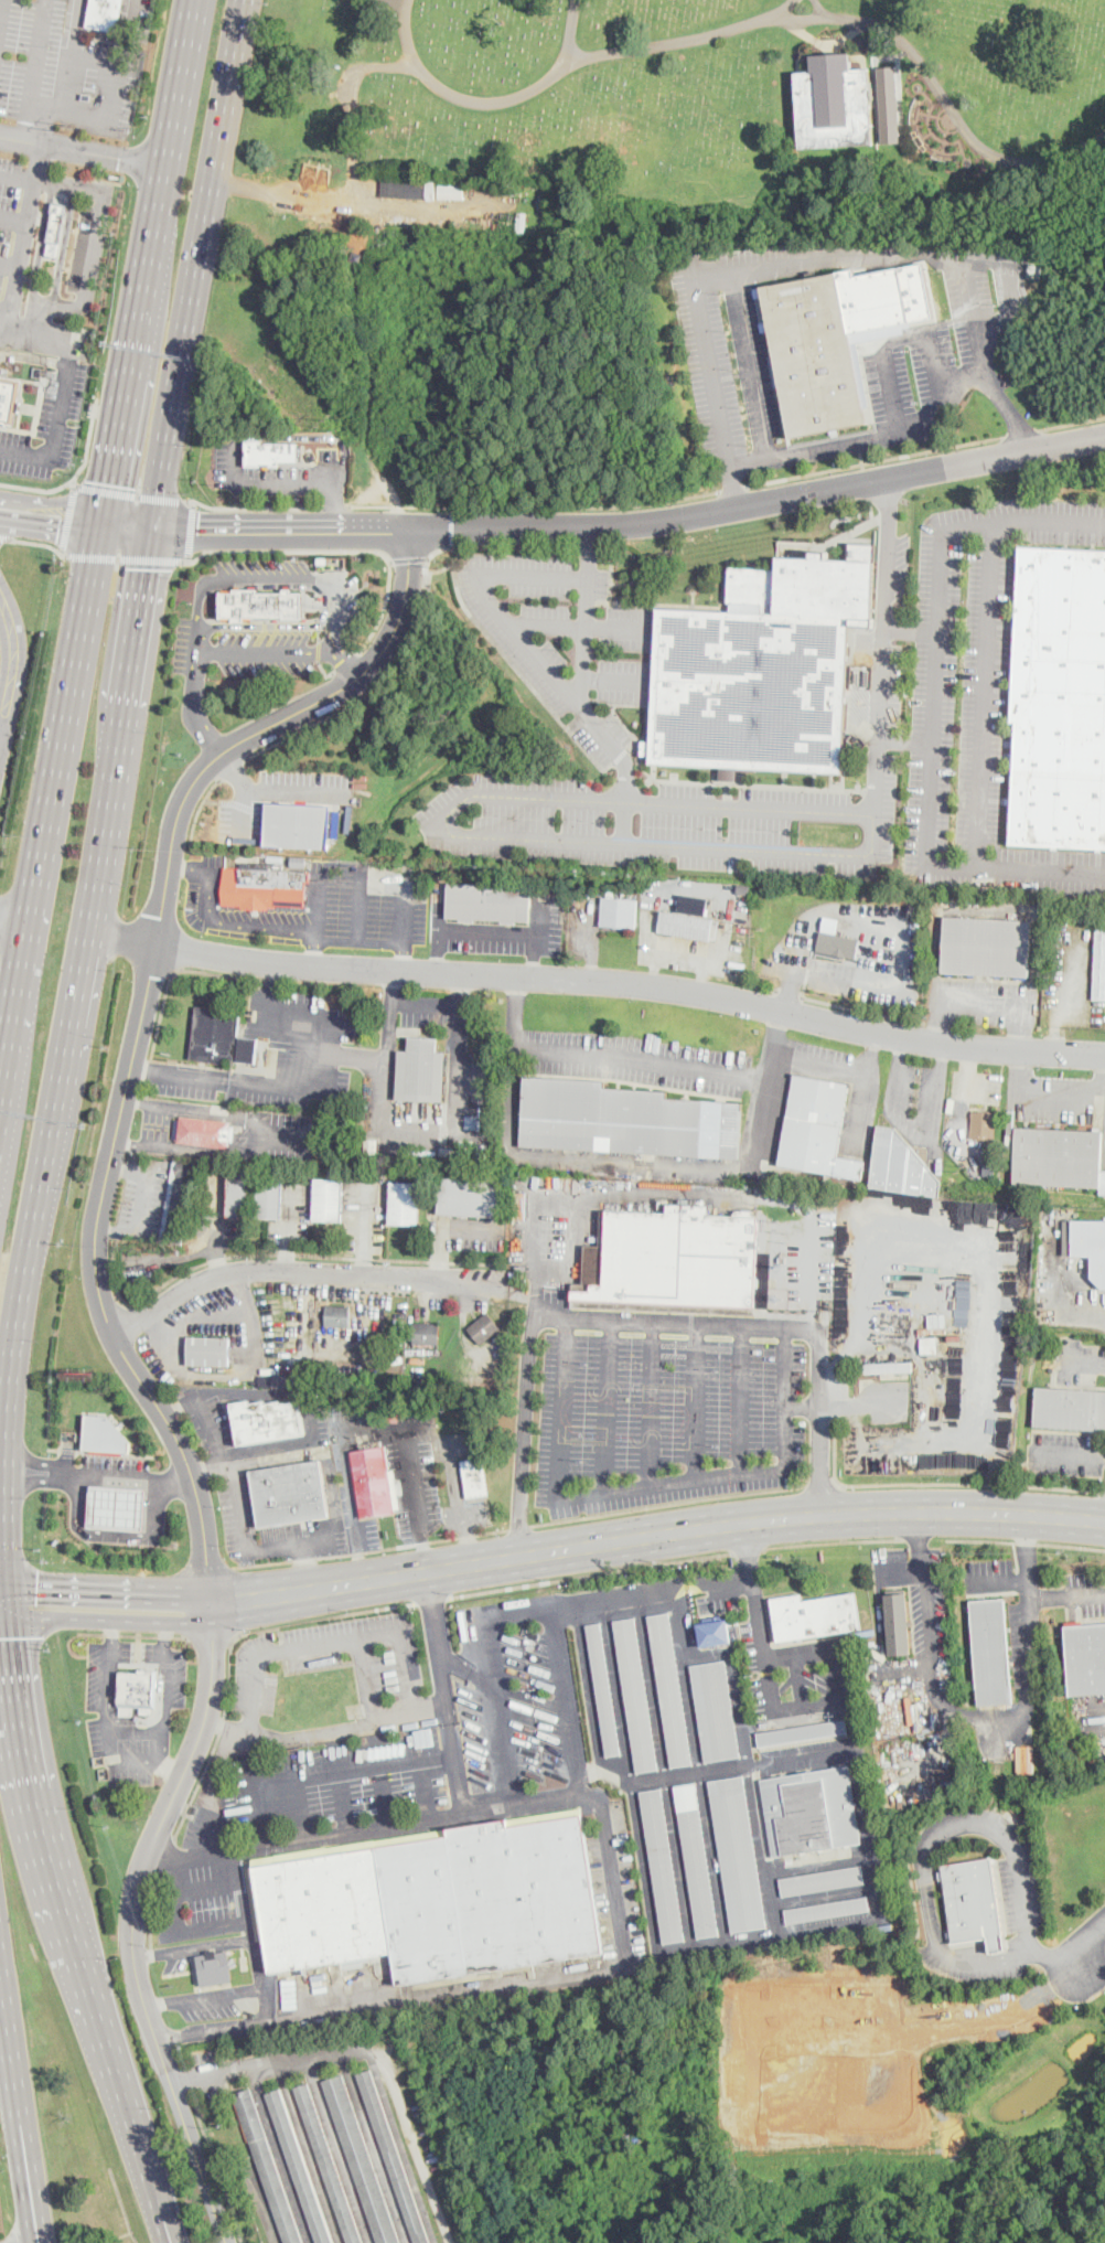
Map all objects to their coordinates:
road: (787, 7)
road: (2, 12)
building: (105, 14)
road: (131, 19)
road: (75, 24)
road: (675, 38)
parking lot: (40, 57)
road: (35, 68)
parking lot: (110, 76)
road: (944, 93)
building: (86, 95)
road: (180, 100)
road: (489, 103)
building: (889, 103)
building: (834, 104)
road: (46, 109)
park: (685, 113)
road: (110, 120)
power tower: (71, 127)
road: (84, 149)
road: (19, 175)
road: (51, 181)
building: (409, 189)
building: (451, 191)
building: (507, 191)
parking lot: (10, 212)
road: (14, 217)
building: (521, 223)
building: (56, 226)
road: (24, 237)
road: (40, 243)
road: (62, 247)
road: (92, 247)
parking lot: (81, 249)
road: (10, 261)
road: (797, 263)
road: (202, 264)
building: (373, 268)
building: (1033, 270)
road: (4, 311)
road: (35, 324)
building: (836, 337)
road: (35, 340)
parking lot: (834, 343)
road: (33, 356)
road: (935, 356)
road: (130, 363)
road: (892, 387)
building: (9, 396)
road: (1011, 416)
power tower: (321, 420)
parking lot: (50, 423)
road: (1074, 424)
road: (56, 426)
road: (1024, 432)
road: (309, 436)
building: (270, 451)
road: (803, 453)
road: (748, 459)
road: (877, 462)
parking lot: (277, 472)
road: (75, 474)
traffic signals: (108, 482)
road: (74, 484)
road: (267, 487)
road: (733, 488)
road: (733, 490)
road: (131, 493)
road: (53, 498)
road: (15, 499)
road: (759, 502)
road: (333, 505)
road: (535, 505)
road: (891, 505)
road: (249, 506)
road: (336, 508)
road: (68, 520)
road: (451, 525)
road: (50, 526)
road: (128, 526)
traffic signals: (58, 528)
road: (192, 528)
road: (7, 530)
traffic signals: (197, 530)
road: (282, 530)
road: (7, 538)
road: (42, 544)
road: (591, 548)
road: (335, 549)
road: (432, 552)
road: (189, 556)
road: (124, 558)
road: (409, 558)
power tower: (441, 563)
traffic signals: (150, 567)
road: (321, 586)
road: (490, 595)
building: (262, 604)
parking lot: (269, 615)
road: (580, 630)
road: (912, 631)
road: (319, 633)
road: (341, 647)
road: (319, 649)
road: (270, 651)
road: (135, 653)
road: (345, 662)
road: (11, 665)
road: (323, 670)
building: (761, 670)
road: (882, 674)
building: (858, 677)
road: (615, 680)
parking lot: (1011, 692)
road: (193, 693)
road: (583, 694)
road: (987, 696)
building: (1060, 699)
parking lot: (567, 705)
road: (936, 707)
road: (311, 723)
road: (0, 724)
road: (58, 739)
road: (908, 740)
road: (230, 768)
building: (729, 772)
road: (275, 789)
parking lot: (278, 798)
road: (197, 810)
road: (240, 812)
road: (627, 823)
building: (298, 824)
road: (453, 835)
road: (98, 855)
building: (275, 856)
building: (297, 862)
building: (873, 868)
building: (265, 888)
building: (743, 888)
building: (565, 896)
road: (319, 901)
road: (360, 902)
building: (489, 902)
parking lot: (321, 904)
building: (694, 904)
building: (619, 912)
road: (219, 919)
road: (12, 921)
building: (688, 922)
road: (888, 926)
road: (487, 929)
power tower: (758, 930)
parking lot: (498, 932)
road: (393, 942)
building: (839, 944)
building: (986, 947)
road: (438, 949)
road: (317, 950)
road: (533, 953)
road: (405, 955)
building: (1099, 965)
road: (169, 980)
road: (596, 980)
road: (764, 989)
road: (790, 994)
road: (986, 998)
road: (9, 1008)
road: (861, 1011)
road: (140, 1018)
road: (781, 1030)
building: (221, 1038)
road: (386, 1050)
parking lot: (812, 1057)
road: (620, 1058)
parking lot: (635, 1059)
road: (839, 1065)
building: (421, 1071)
road: (283, 1085)
road: (1058, 1093)
road: (149, 1106)
road: (53, 1109)
road: (453, 1118)
building: (287, 1120)
building: (625, 1120)
building: (471, 1122)
building: (308, 1123)
building: (984, 1124)
building: (817, 1128)
building: (202, 1131)
building: (242, 1134)
road: (257, 1137)
road: (142, 1144)
building: (371, 1144)
building: (480, 1150)
building: (989, 1150)
building: (449, 1152)
building: (1059, 1157)
building: (901, 1166)
power tower: (962, 1167)
building: (987, 1167)
building: (635, 1173)
road: (677, 1192)
building: (238, 1193)
parking lot: (143, 1196)
building: (270, 1197)
building: (470, 1197)
building: (328, 1200)
road: (141, 1201)
building: (179, 1201)
building: (405, 1203)
building: (1091, 1243)
road: (278, 1252)
building: (594, 1262)
building: (677, 1262)
road: (286, 1275)
building: (337, 1316)
road: (205, 1317)
road: (650, 1322)
building: (484, 1328)
building: (932, 1328)
building: (427, 1333)
building: (954, 1336)
building: (929, 1344)
building: (208, 1350)
road: (1083, 1364)
building: (391, 1365)
building: (886, 1368)
building: (292, 1379)
road: (176, 1399)
road: (742, 1400)
road: (857, 1401)
road: (696, 1402)
road: (652, 1406)
road: (607, 1408)
building: (1070, 1408)
parking lot: (668, 1418)
building: (267, 1421)
road: (367, 1421)
parking lot: (212, 1425)
road: (7, 1428)
building: (104, 1434)
gas station: (104, 1434)
building: (363, 1439)
road: (836, 1452)
parking lot: (1065, 1453)
road: (1068, 1454)
parking lot: (398, 1456)
parking lot: (117, 1463)
road: (211, 1472)
road: (98, 1473)
building: (475, 1477)
parking lot: (458, 1481)
building: (372, 1482)
road: (970, 1484)
road: (819, 1485)
road: (651, 1487)
road: (1104, 1493)
building: (290, 1494)
road: (459, 1499)
road: (76, 1502)
road: (667, 1502)
building: (117, 1506)
parking lot: (353, 1506)
road: (158, 1507)
road: (239, 1509)
road: (519, 1526)
parking lot: (271, 1528)
road: (116, 1532)
road: (673, 1532)
road: (915, 1538)
road: (1024, 1544)
road: (372, 1549)
road: (13, 1552)
road: (748, 1559)
road: (307, 1562)
road: (668, 1562)
road: (3, 1573)
parking lot: (989, 1574)
road: (728, 1581)
traffic signals: (37, 1585)
road: (125, 1588)
road: (8, 1594)
road: (625, 1594)
parking lot: (1084, 1594)
road: (1028, 1596)
road: (47, 1603)
road: (4, 1615)
building: (815, 1616)
road: (130, 1619)
building: (900, 1625)
parking lot: (931, 1632)
road: (135, 1633)
building: (715, 1633)
traffic signals: (12, 1636)
road: (213, 1637)
parking lot: (1023, 1641)
road: (24, 1643)
road: (403, 1644)
road: (440, 1646)
building: (990, 1652)
building: (1086, 1658)
parking lot: (339, 1660)
road: (468, 1668)
road: (369, 1678)
road: (494, 1678)
road: (798, 1680)
building: (137, 1689)
building: (603, 1690)
building: (669, 1690)
building: (636, 1696)
road: (565, 1700)
road: (809, 1702)
road: (431, 1706)
parking lot: (534, 1706)
road: (948, 1708)
building: (715, 1711)
parking lot: (107, 1712)
road: (146, 1721)
road: (136, 1728)
parking lot: (473, 1730)
building: (803, 1731)
building: (1024, 1758)
road: (137, 1761)
road: (170, 1765)
road: (343, 1766)
road: (425, 1784)
road: (382, 1792)
road: (195, 1793)
parking lot: (379, 1796)
road: (342, 1797)
road: (212, 1802)
building: (805, 1814)
road: (940, 1822)
road: (376, 1824)
building: (738, 1854)
building: (696, 1860)
building: (662, 1865)
parking lot: (616, 1879)
building: (822, 1880)
road: (221, 1886)
parking lot: (1022, 1888)
parking lot: (208, 1891)
road: (64, 1898)
building: (975, 1901)
building: (438, 1902)
building: (829, 1910)
road: (132, 1919)
road: (180, 1932)
road: (1085, 1944)
parking lot: (178, 1956)
road: (256, 1959)
building: (214, 1967)
parking lot: (967, 1968)
road: (538, 1979)
parking lot: (210, 2001)
road: (375, 2050)
road: (12, 2052)
road: (180, 2054)
road: (186, 2078)
road: (9, 2090)
building: (393, 2156)
building: (361, 2160)
building: (328, 2164)
road: (216, 2167)
building: (267, 2167)
building: (300, 2167)
road: (29, 2194)
road: (35, 2194)
road: (159, 2208)
road: (164, 2208)

